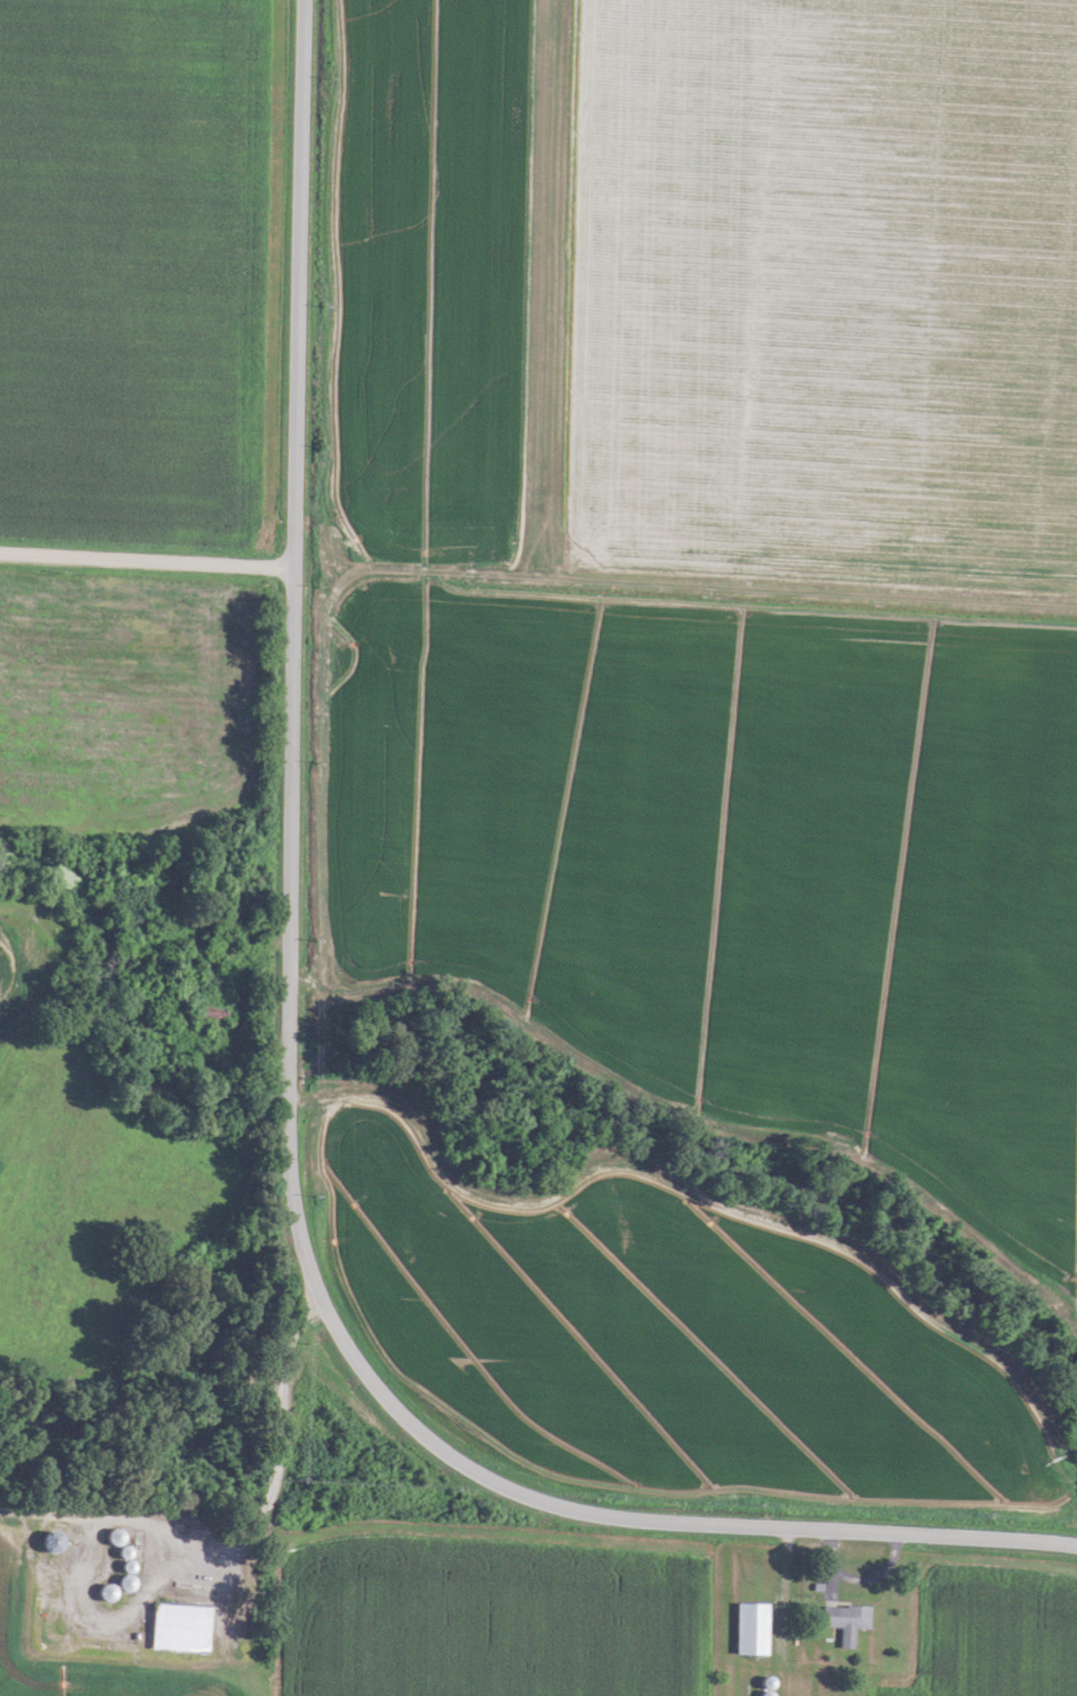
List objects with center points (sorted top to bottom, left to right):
airport runway: (543, 282)
road: (146, 559)
building: (219, 942)
road: (288, 1076)
building: (108, 1538)
building: (45, 1541)
building: (108, 1588)
building: (841, 1621)
building: (173, 1626)
building: (746, 1629)

